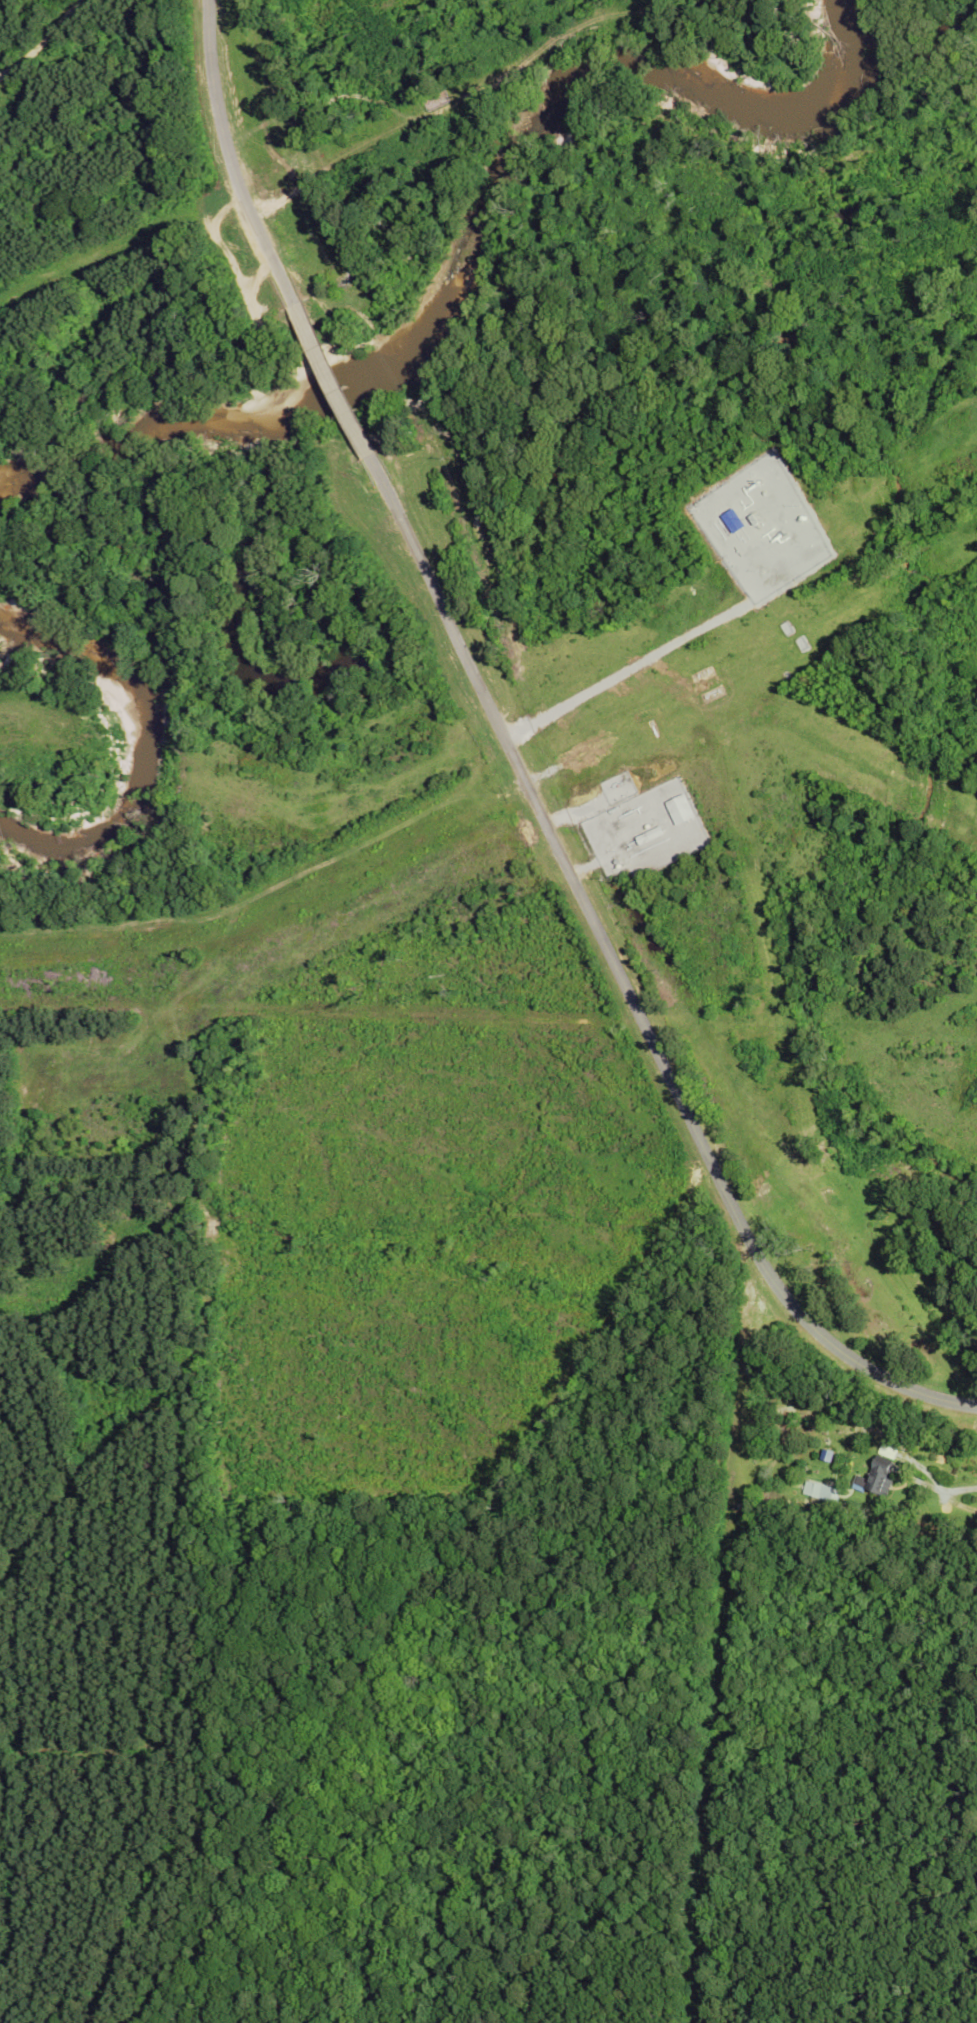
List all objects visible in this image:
road: (236, 183)
river: (471, 235)
road: (342, 403)
river: (140, 747)
road: (621, 982)
building: (879, 1480)
building: (829, 1500)

